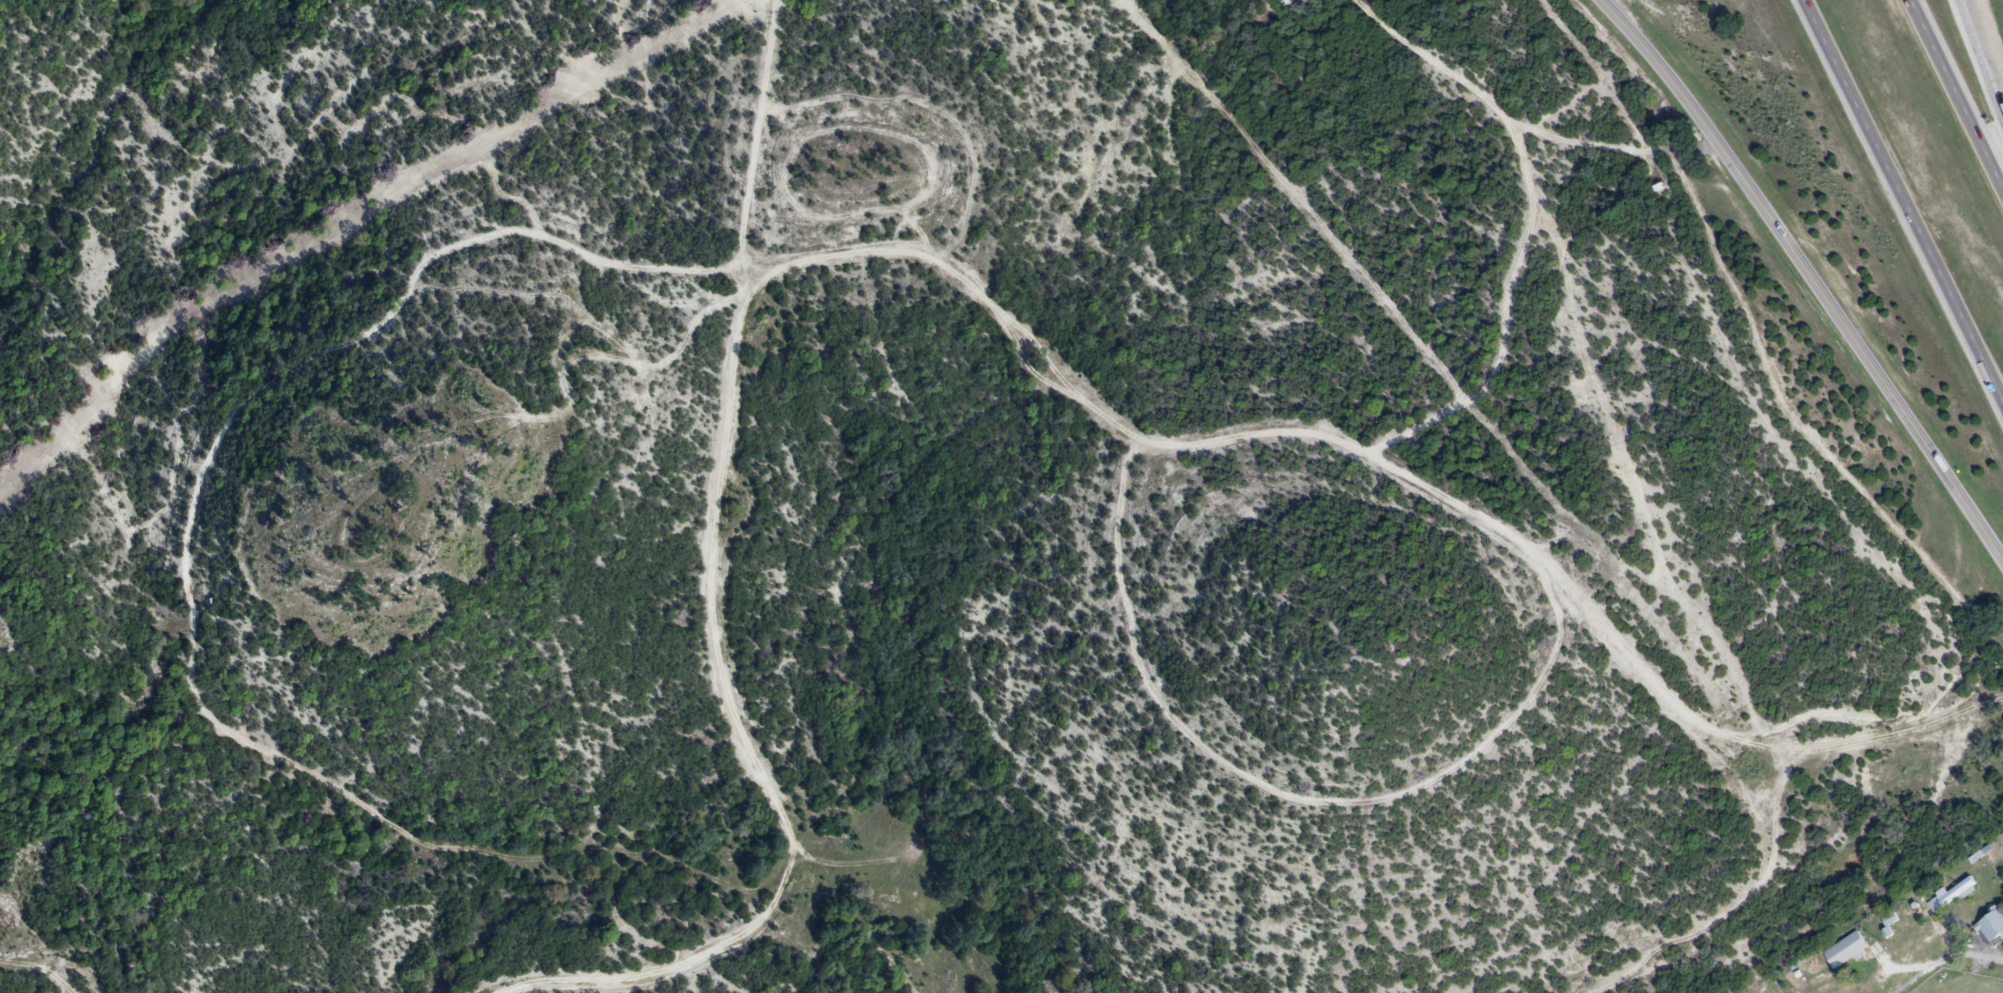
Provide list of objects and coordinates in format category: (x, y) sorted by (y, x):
road: (1979, 61)
road: (1956, 95)
road: (1904, 200)
road: (1813, 274)
building: (1953, 894)
building: (1991, 930)
building: (1843, 952)
road: (1945, 959)

